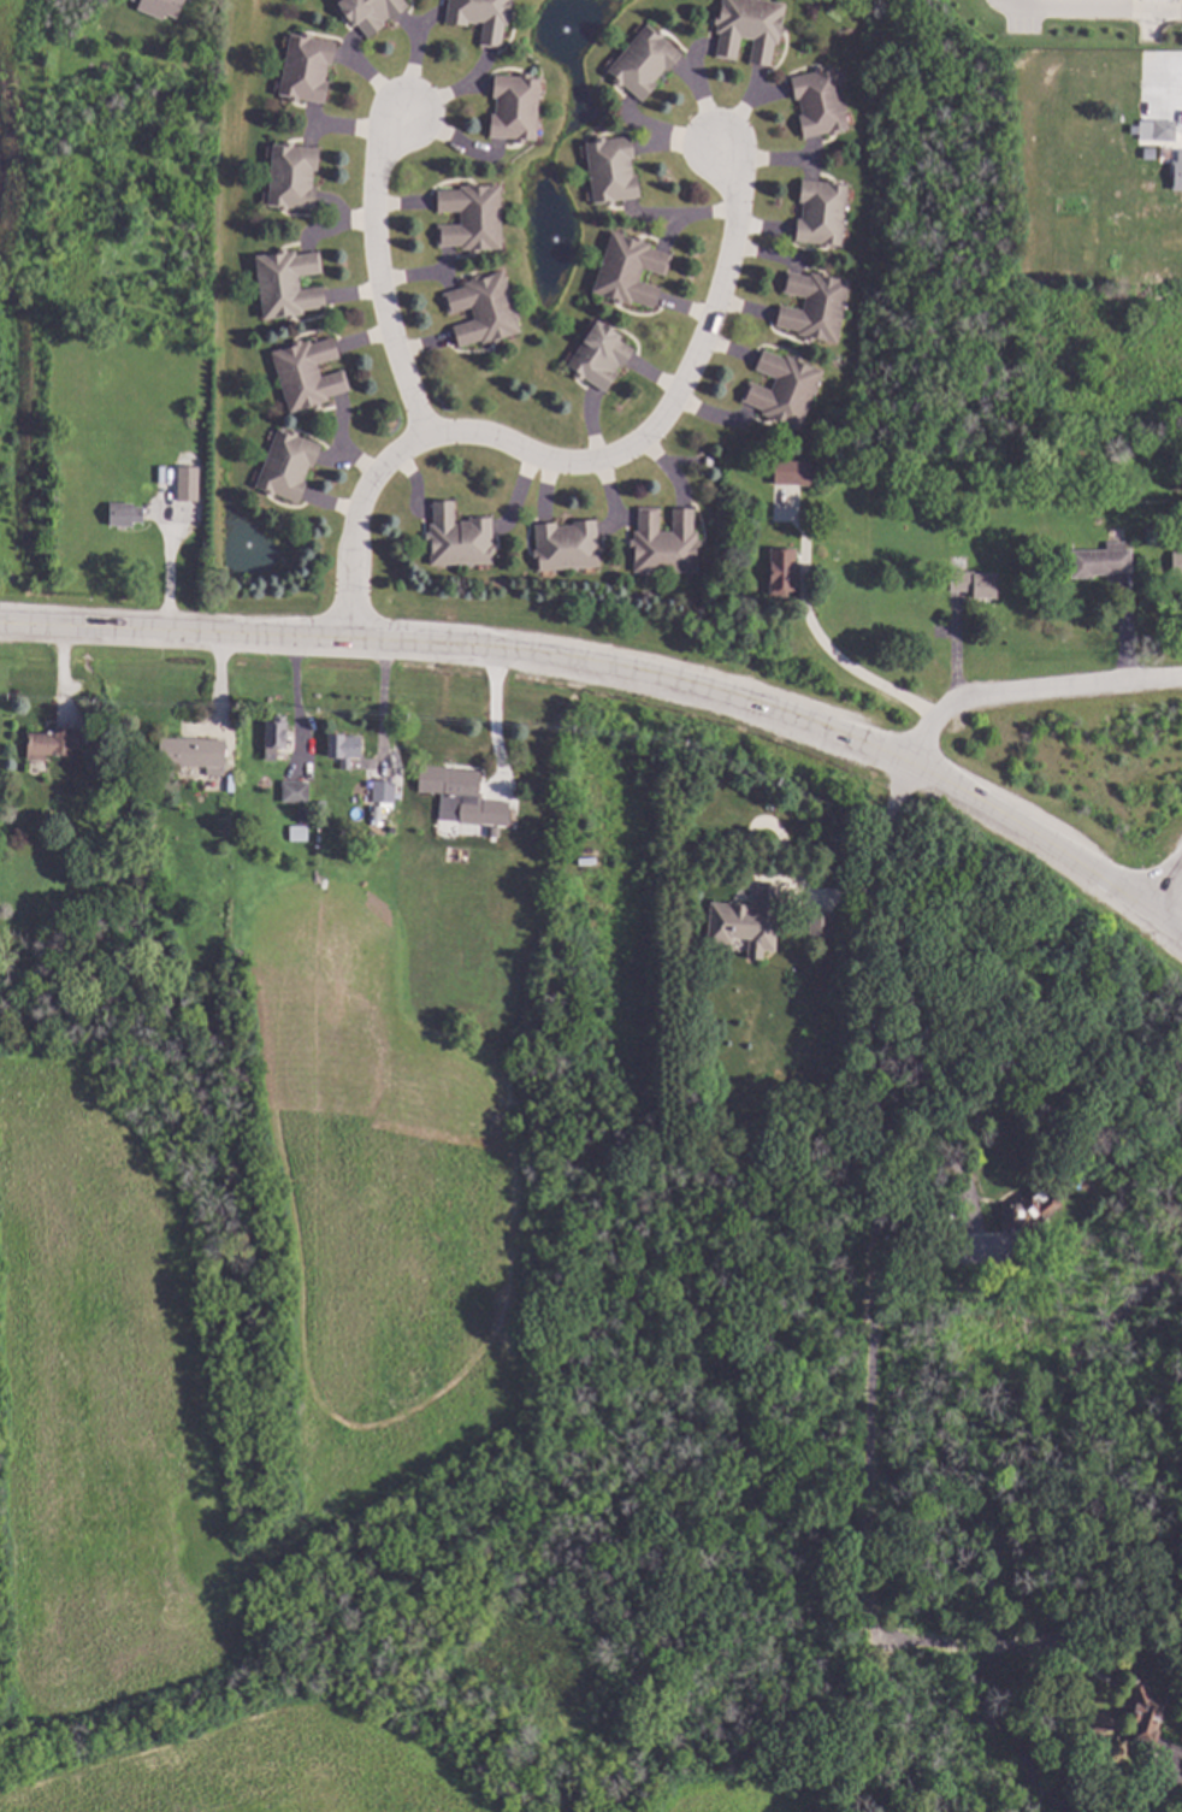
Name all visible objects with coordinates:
building: (1153, 0)
building: (158, 7)
building: (368, 12)
building: (478, 17)
building: (745, 28)
building: (640, 61)
building: (302, 67)
building: (816, 101)
building: (512, 107)
building: (1152, 129)
building: (608, 170)
building: (1175, 171)
building: (289, 175)
building: (818, 209)
building: (467, 214)
building: (627, 270)
road: (377, 276)
building: (285, 283)
building: (811, 305)
building: (478, 307)
building: (596, 356)
building: (305, 373)
building: (779, 386)
building: (1110, 461)
building: (284, 464)
road: (577, 464)
building: (790, 471)
building: (164, 484)
building: (184, 484)
building: (122, 513)
building: (455, 536)
building: (661, 542)
building: (565, 544)
building: (1097, 560)
building: (1175, 562)
building: (776, 569)
building: (971, 583)
road: (823, 650)
road: (601, 663)
road: (1029, 689)
road: (382, 704)
road: (494, 718)
building: (276, 736)
building: (96, 738)
building: (53, 743)
building: (345, 748)
building: (195, 754)
building: (385, 791)
building: (296, 792)
building: (463, 796)
building: (377, 813)
building: (305, 815)
building: (495, 831)
building: (299, 833)
road: (1164, 881)
road: (1165, 915)
building: (750, 921)
building: (822, 923)
building: (538, 1035)
building: (982, 1116)
building: (827, 1117)
road: (924, 1151)
building: (1022, 1226)
building: (926, 1261)
road: (870, 1292)
building: (1146, 1718)
building: (1162, 1792)

